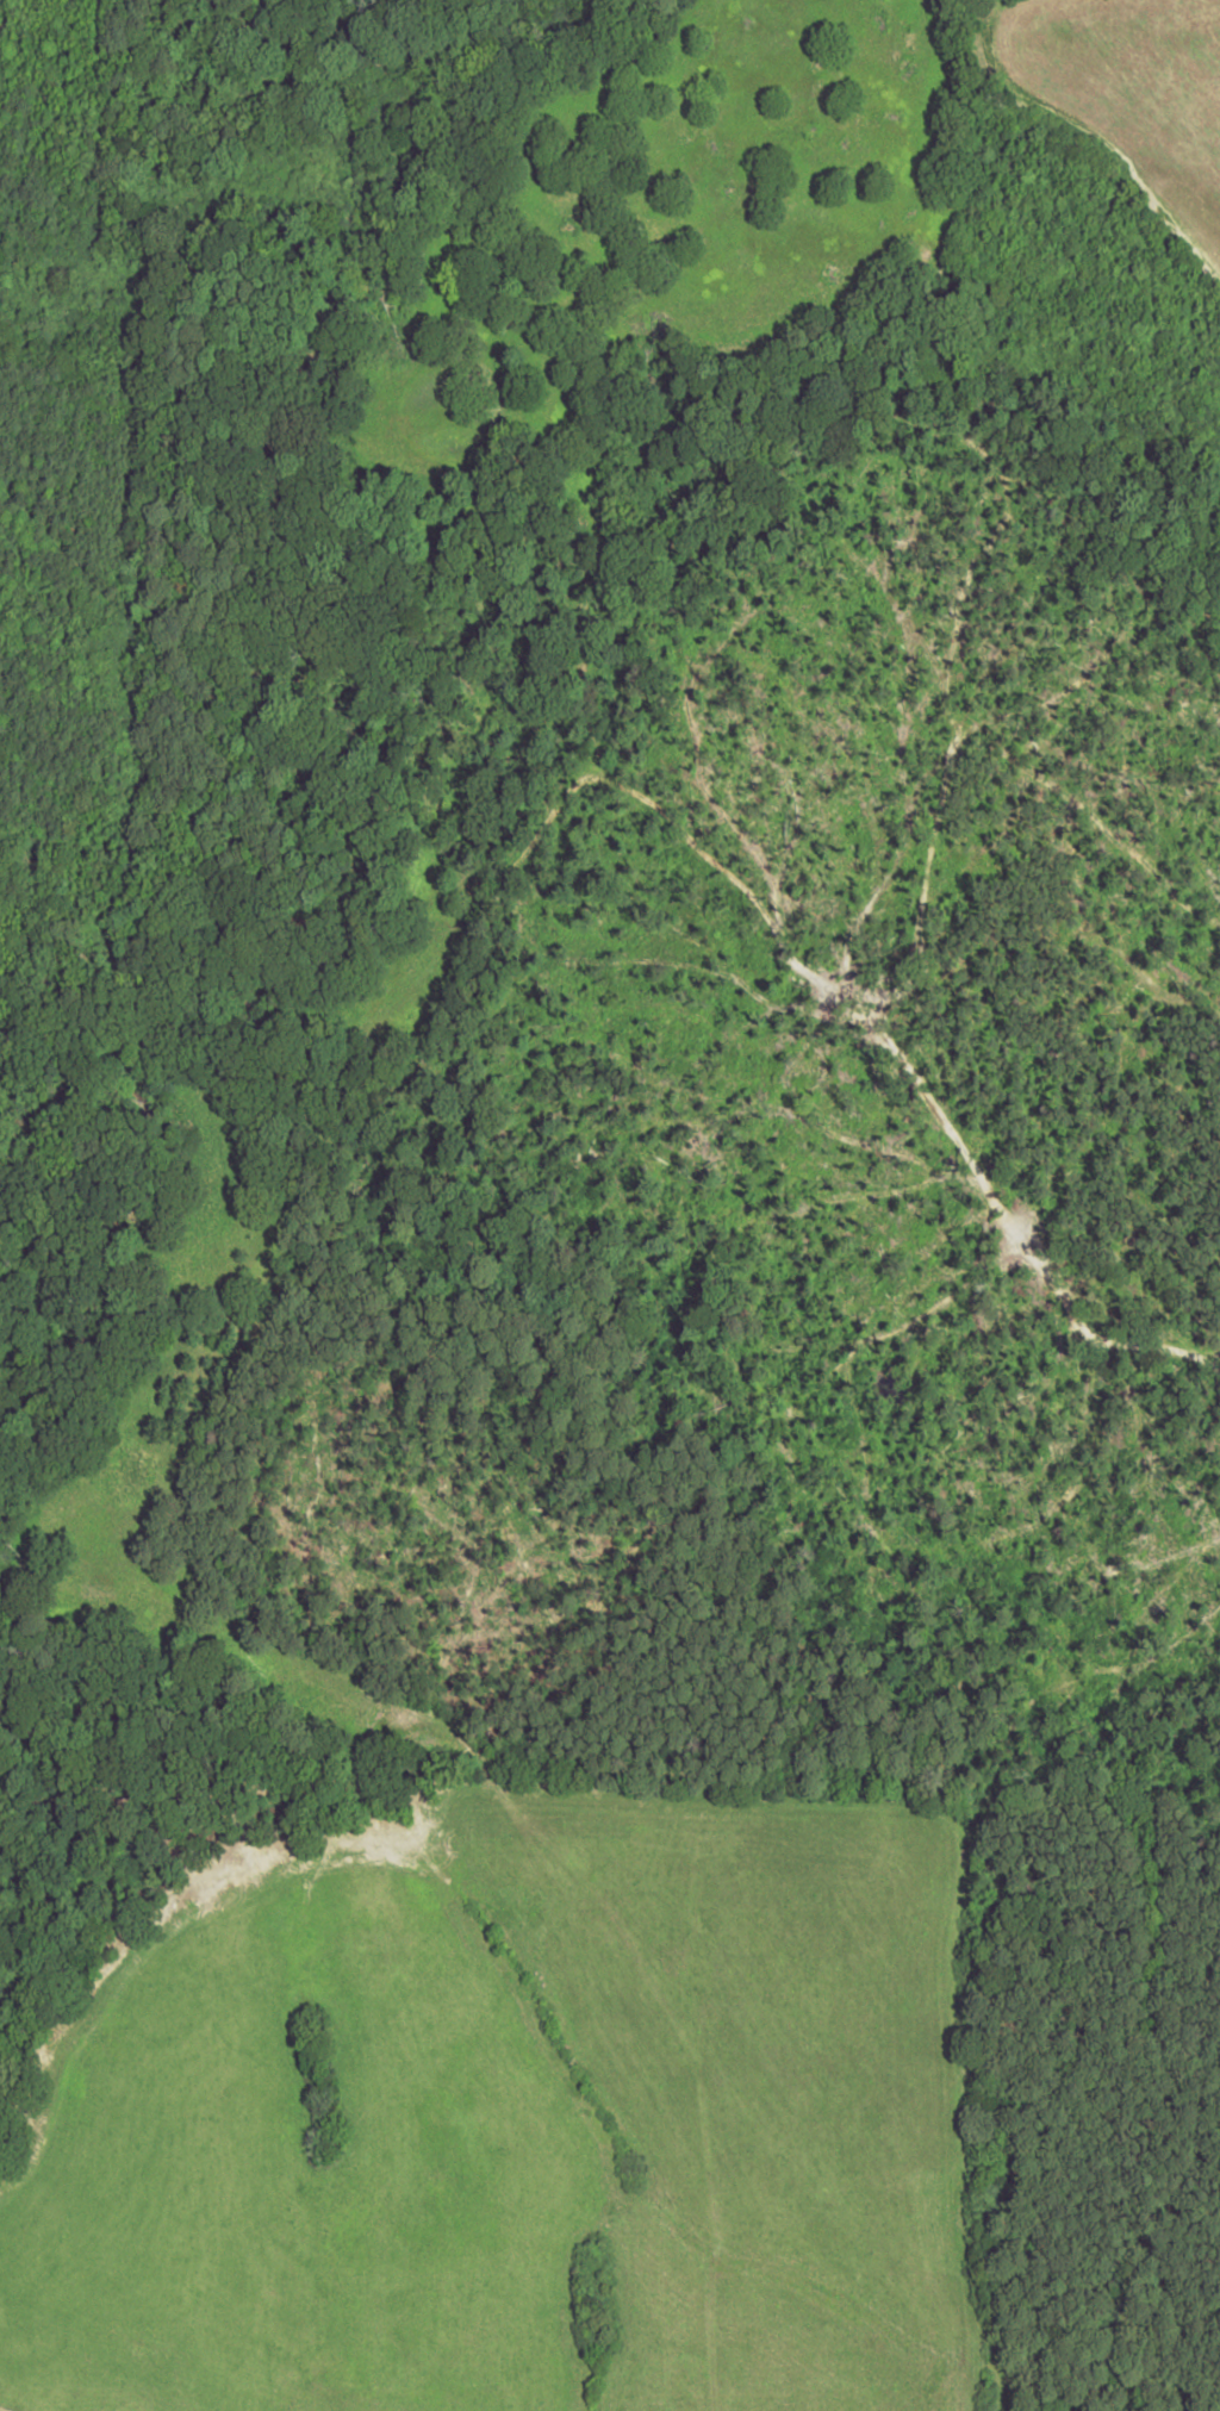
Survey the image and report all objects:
road: (944, 1770)

